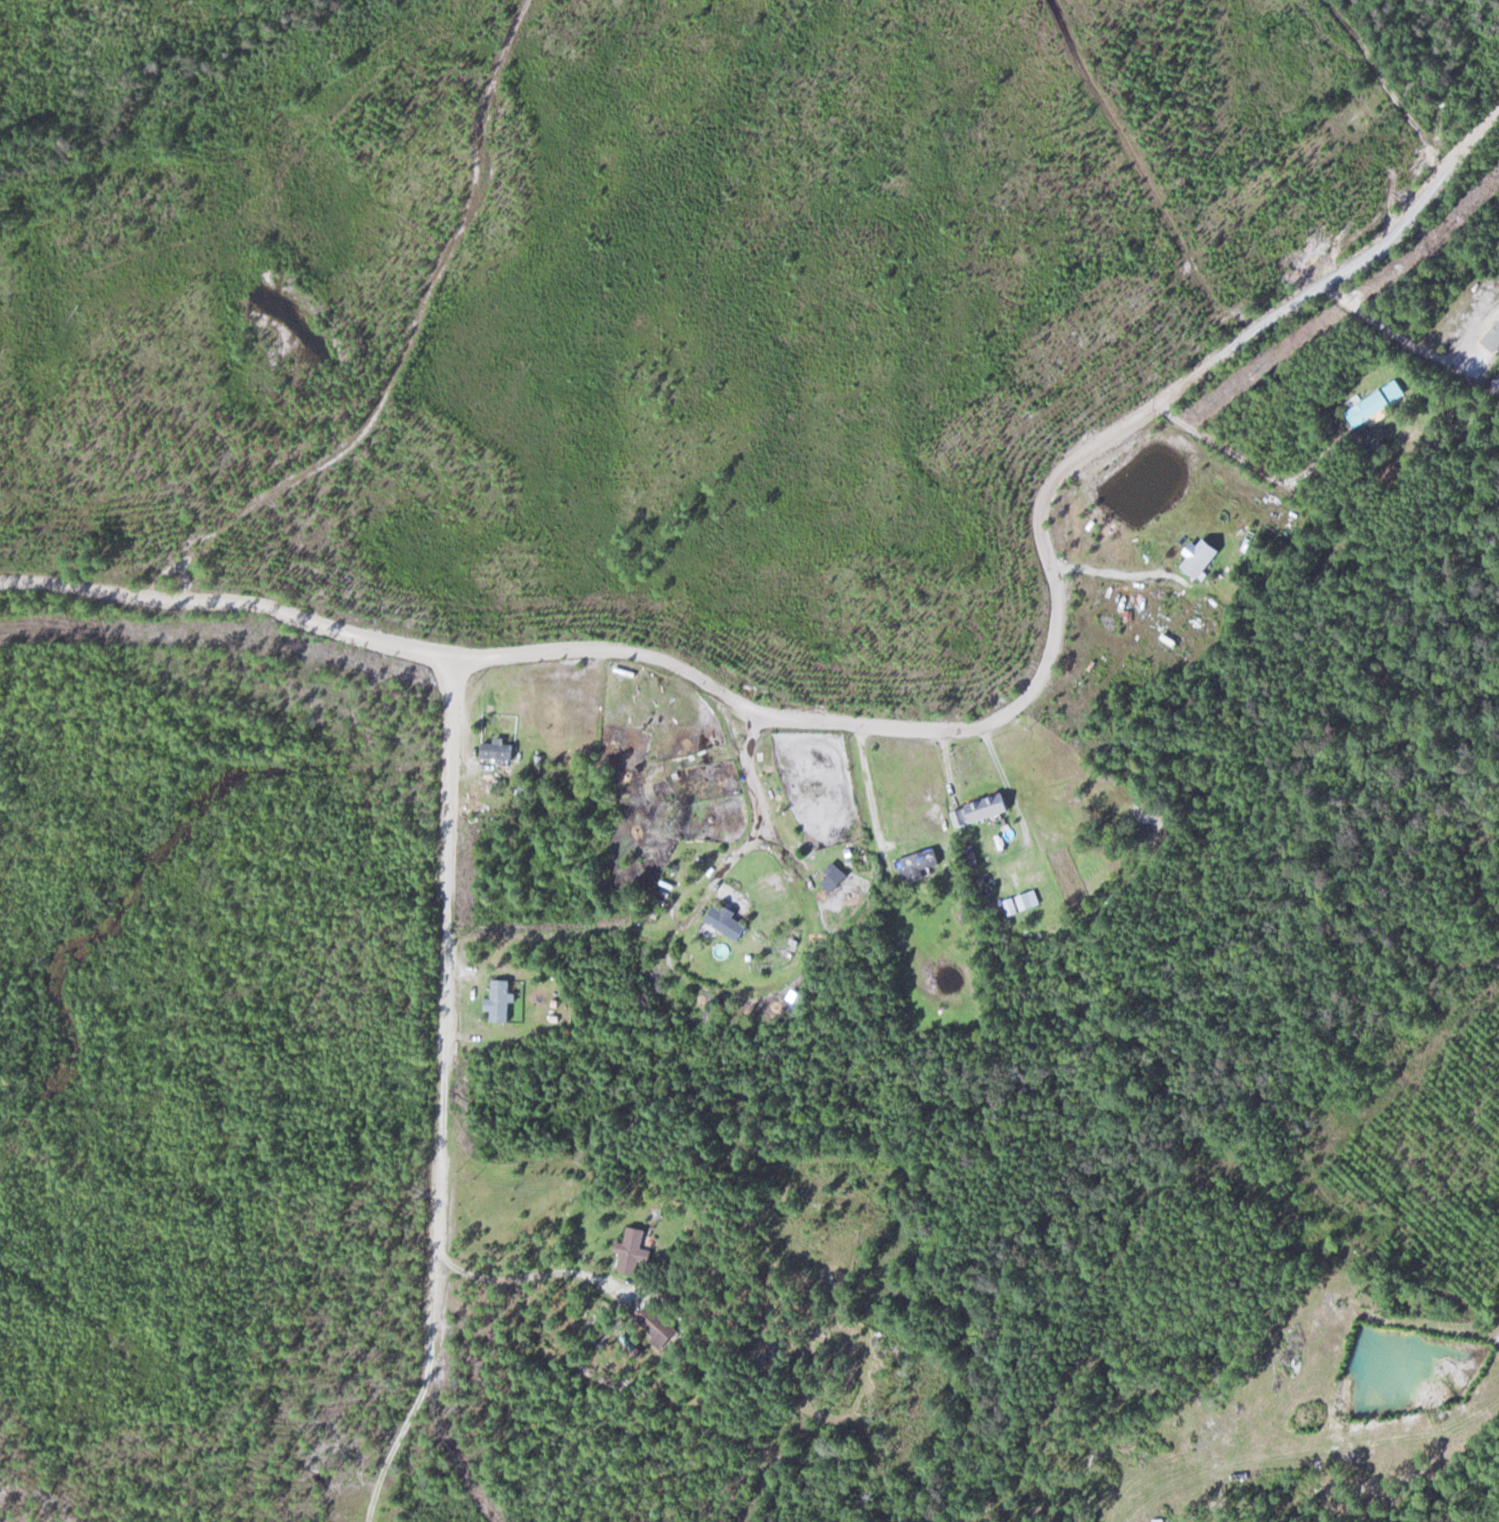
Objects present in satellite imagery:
building: (1496, 343)
building: (1379, 403)
road: (1056, 598)
road: (228, 600)
building: (500, 750)
building: (698, 802)
building: (984, 810)
building: (922, 864)
building: (837, 875)
building: (730, 922)
building: (502, 1000)
road: (443, 1094)
building: (638, 1253)
building: (661, 1327)

